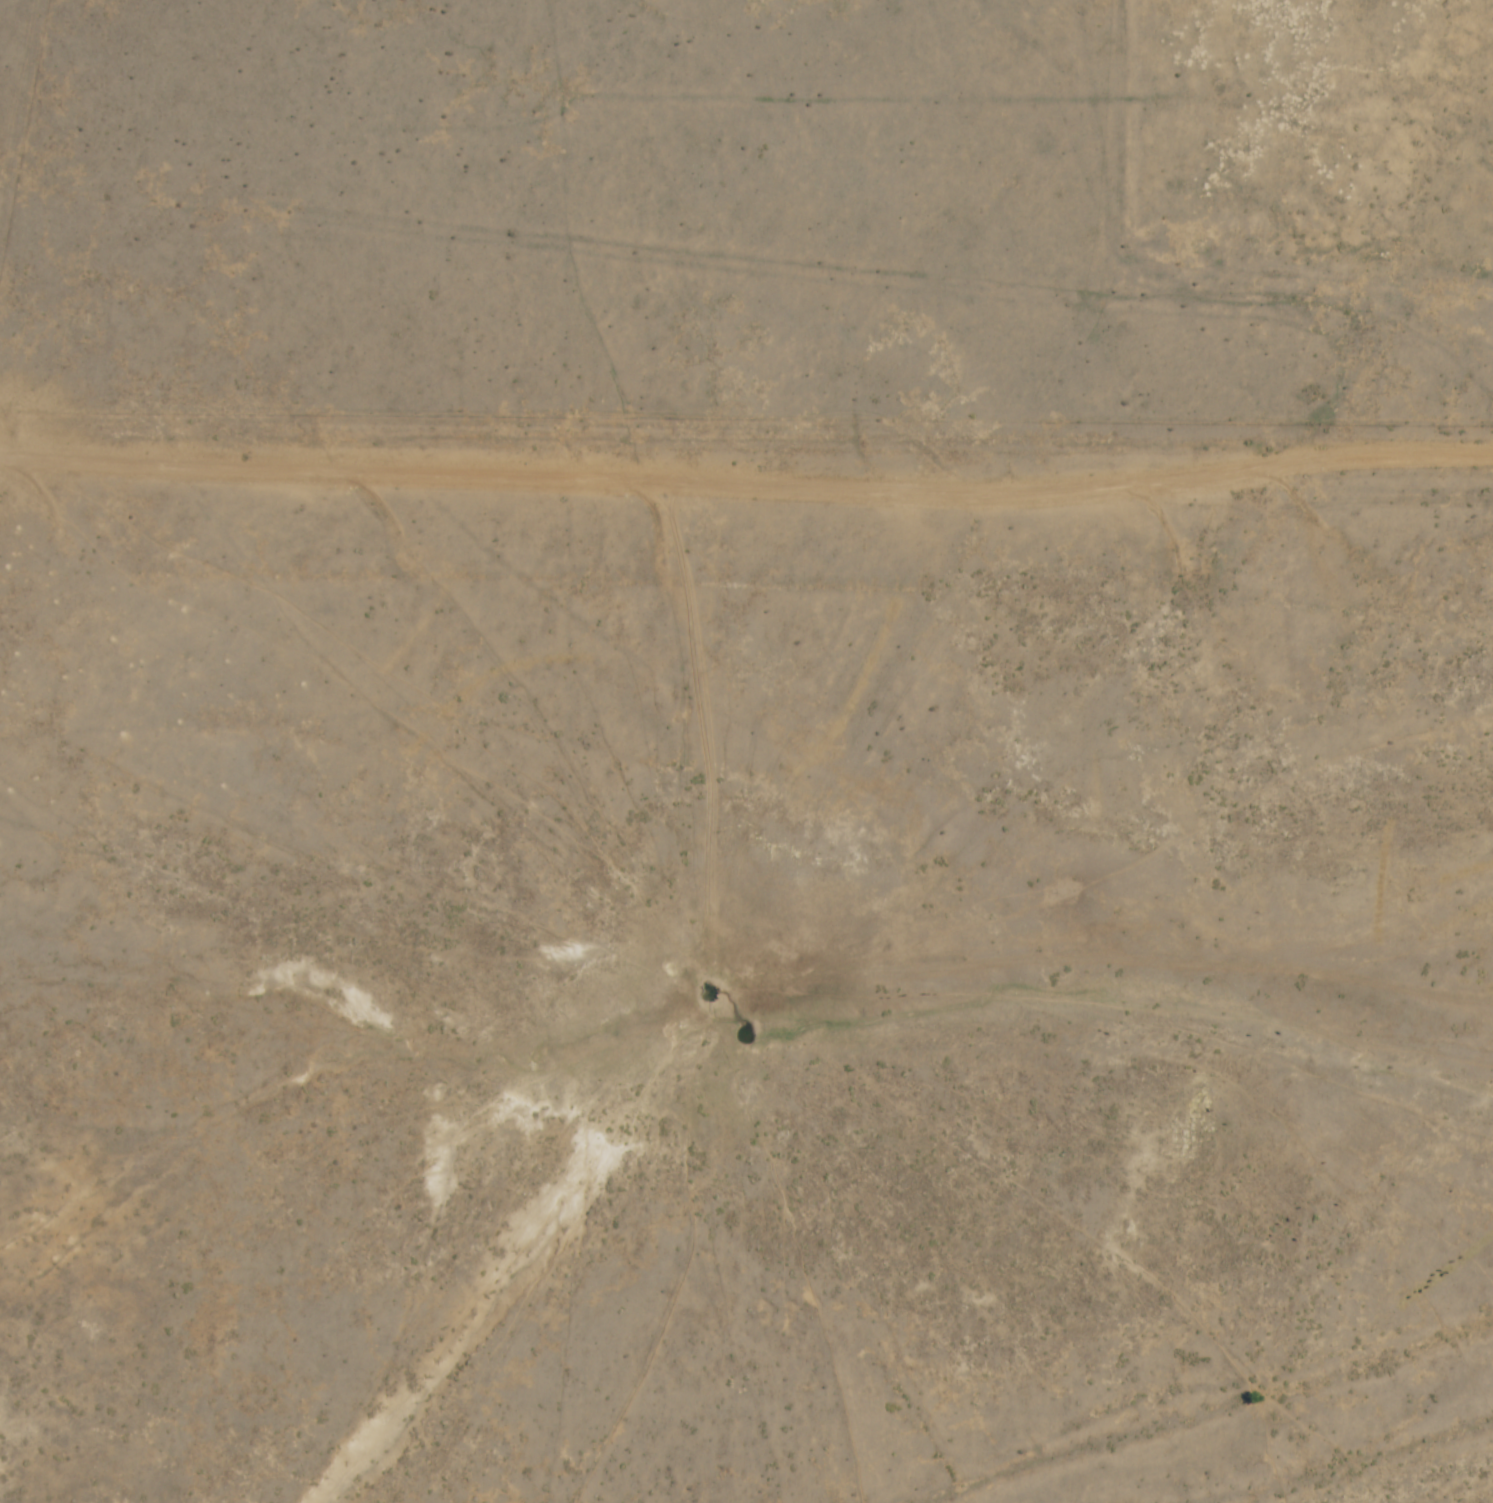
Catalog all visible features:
road: (761, 420)
road: (962, 873)
road: (885, 993)
road: (1356, 1471)

